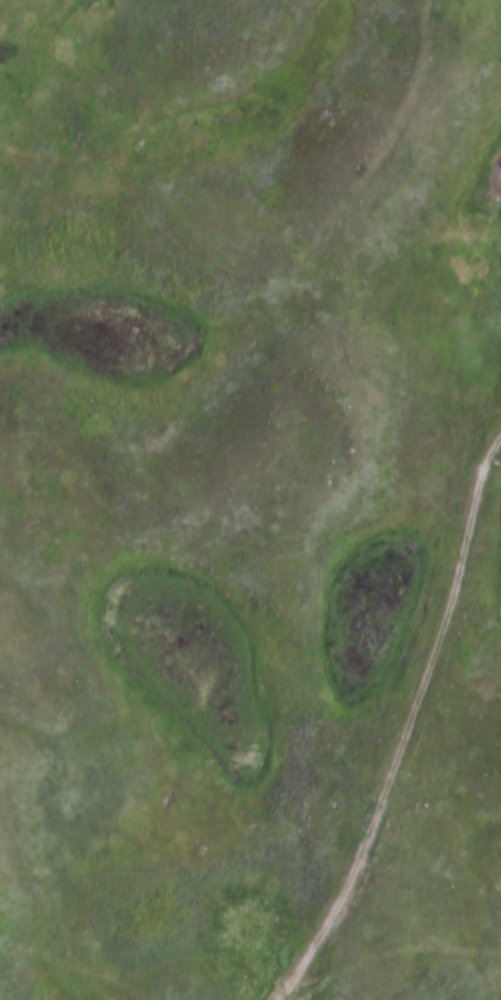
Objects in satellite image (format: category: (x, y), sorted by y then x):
road: (407, 711)

